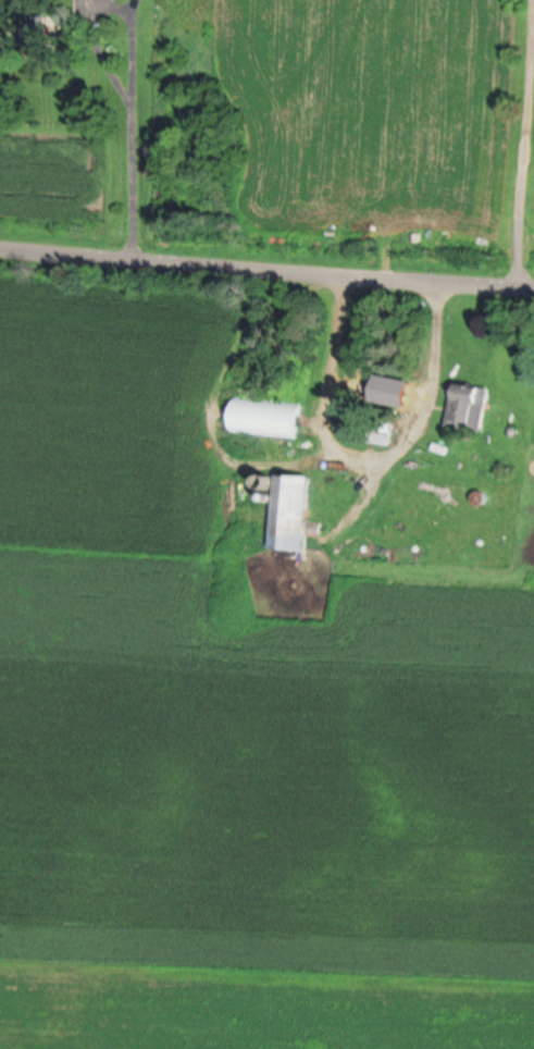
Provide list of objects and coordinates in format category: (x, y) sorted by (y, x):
road: (526, 139)
road: (266, 262)
building: (468, 405)
building: (264, 417)
building: (382, 432)
road: (369, 445)
building: (290, 513)

